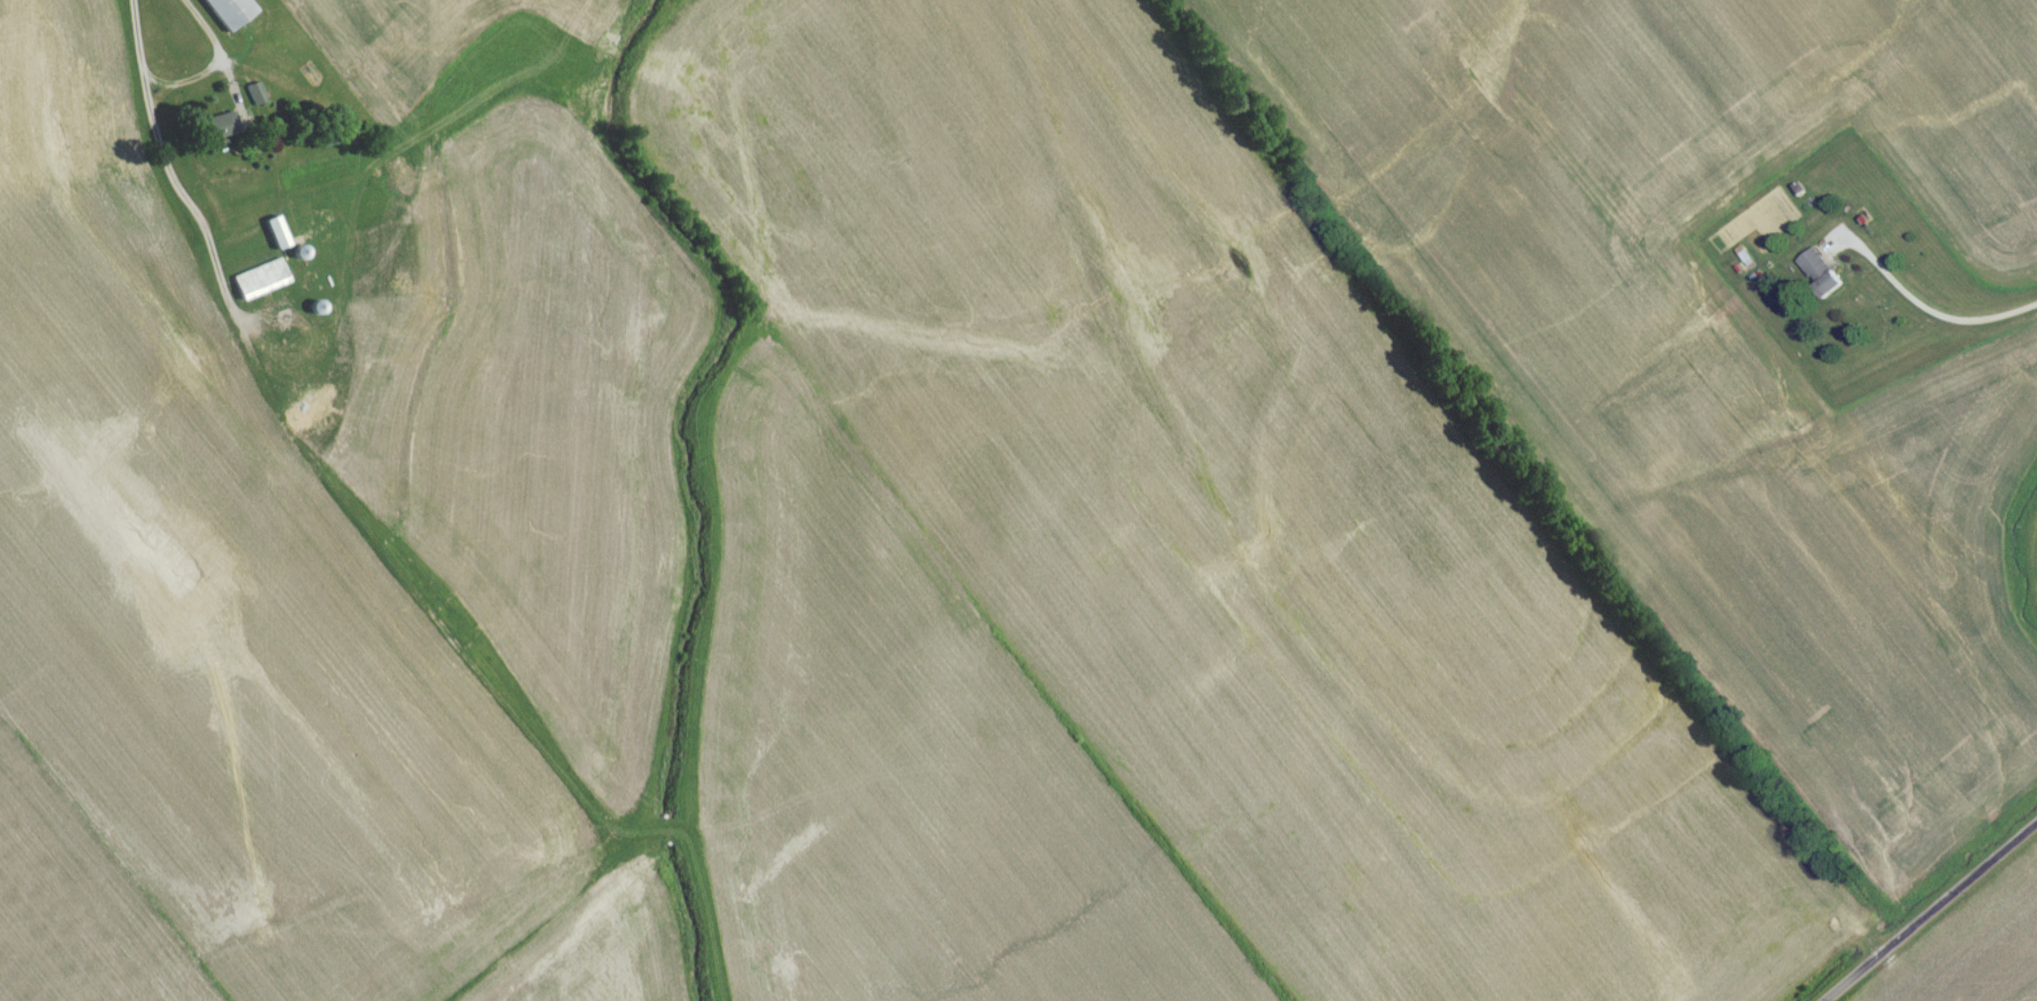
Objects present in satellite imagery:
building: (227, 14)
road: (239, 50)
building: (257, 98)
building: (217, 132)
building: (399, 176)
building: (276, 237)
building: (1820, 277)
road: (1943, 278)
building: (259, 284)
building: (306, 417)
road: (1919, 905)

